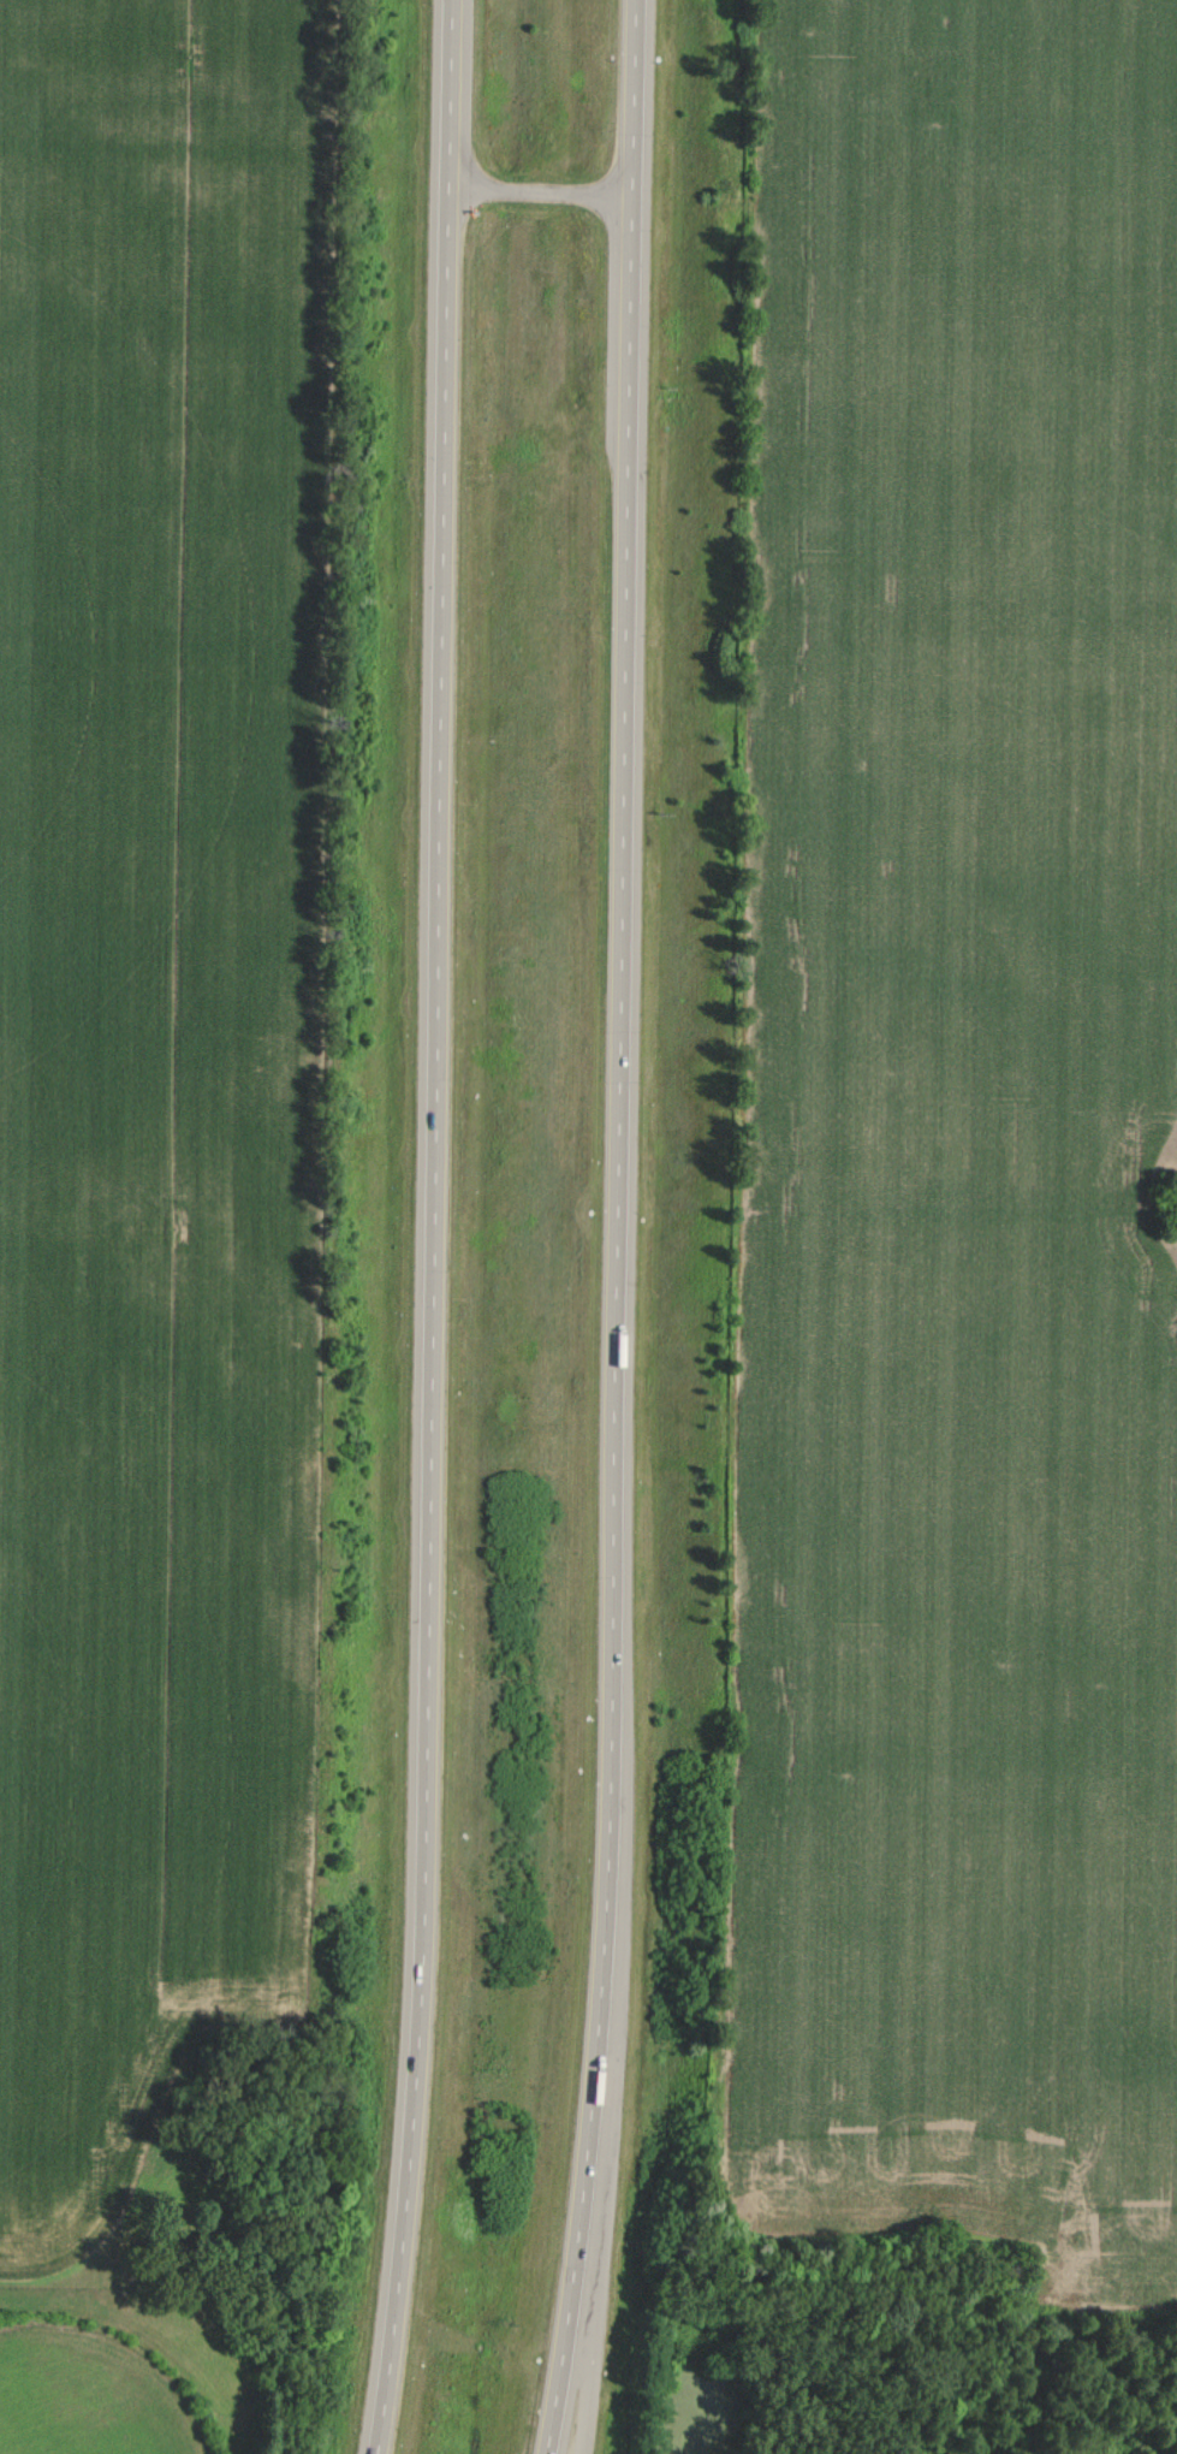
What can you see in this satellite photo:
road: (543, 186)
road: (438, 1228)
road: (620, 1228)
road: (587, 2340)

